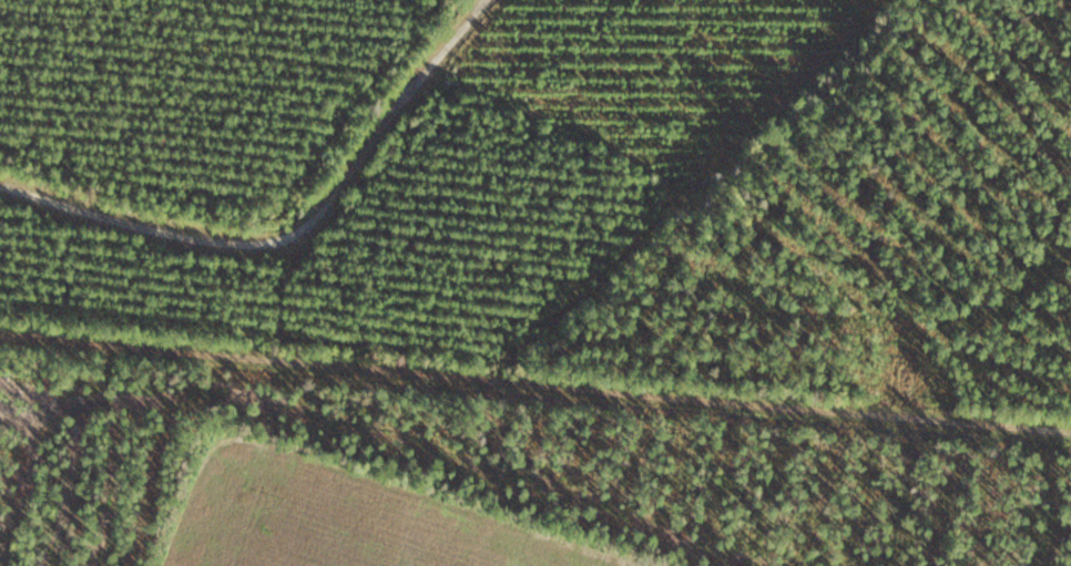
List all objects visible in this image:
road: (292, 260)

